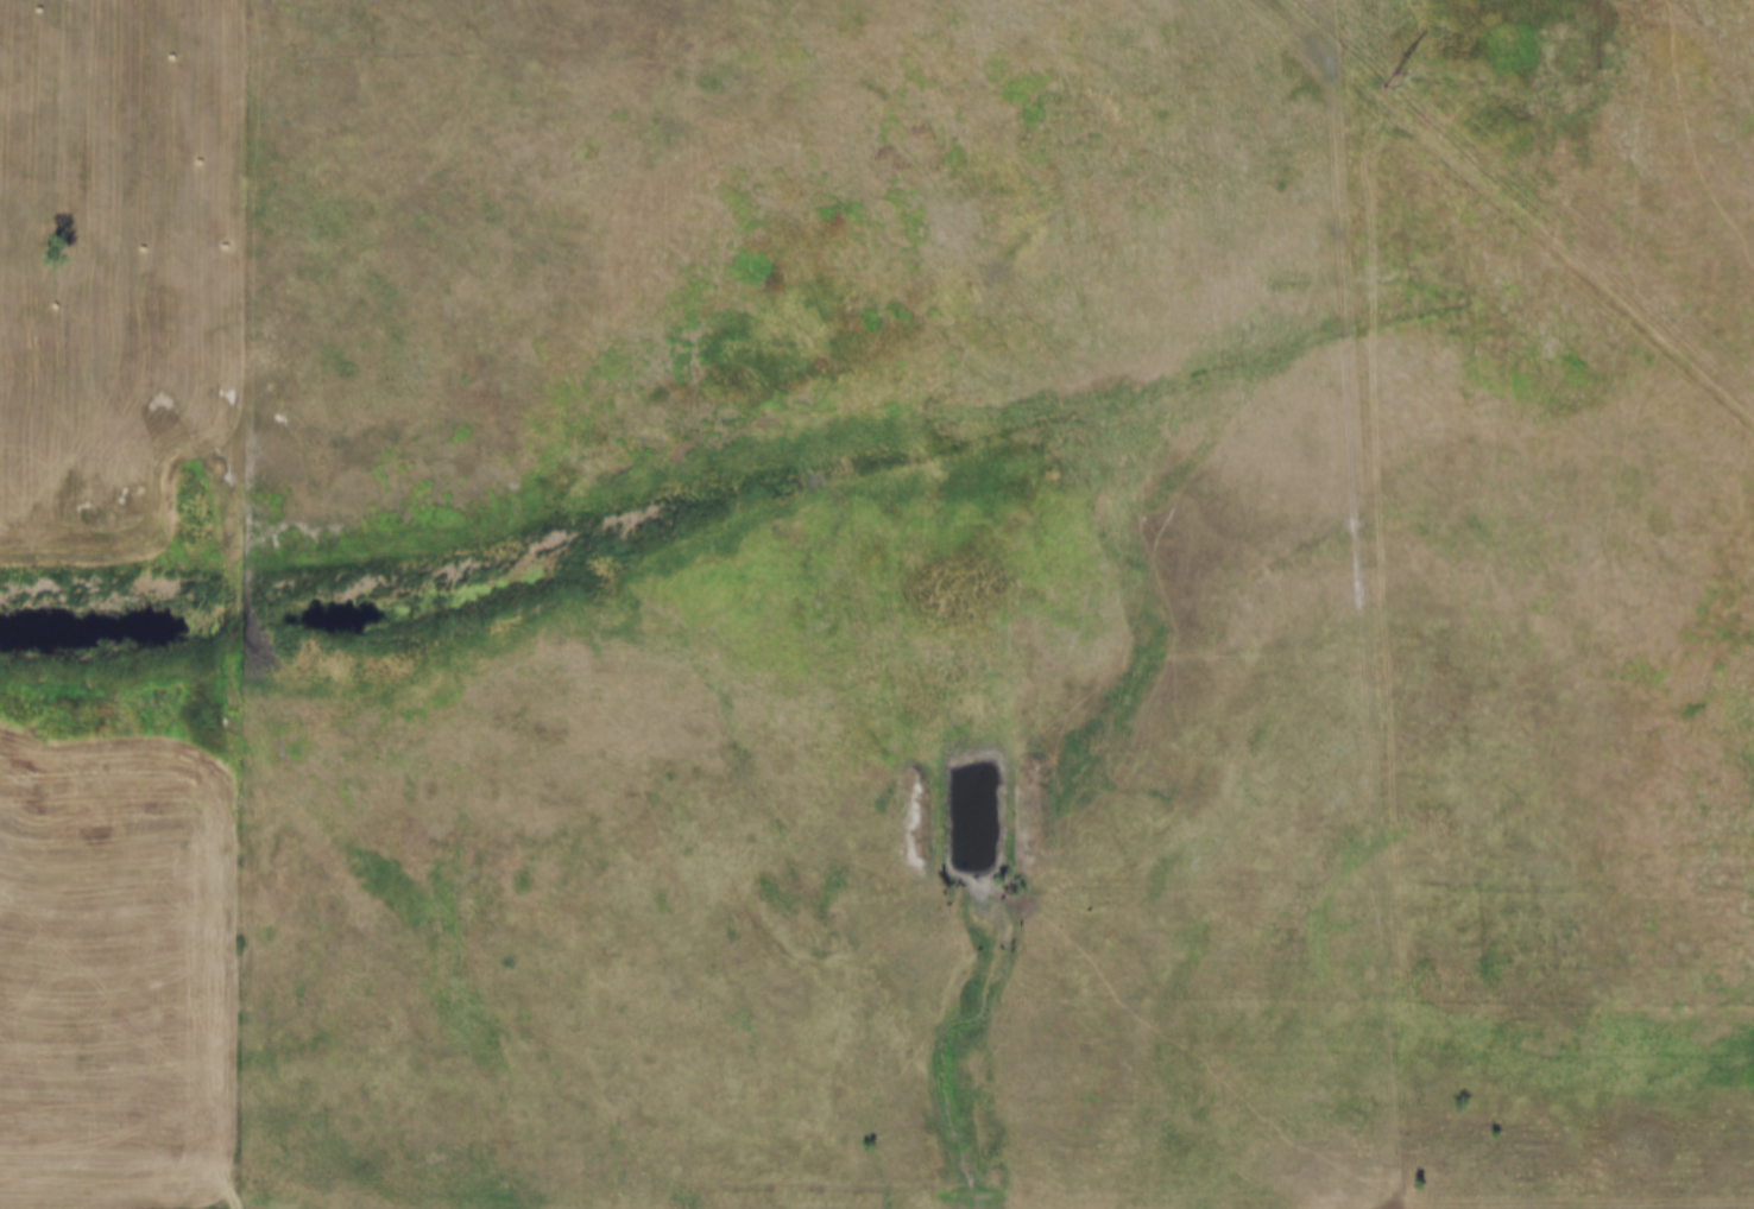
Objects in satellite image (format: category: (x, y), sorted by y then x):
power tower: (1397, 76)

